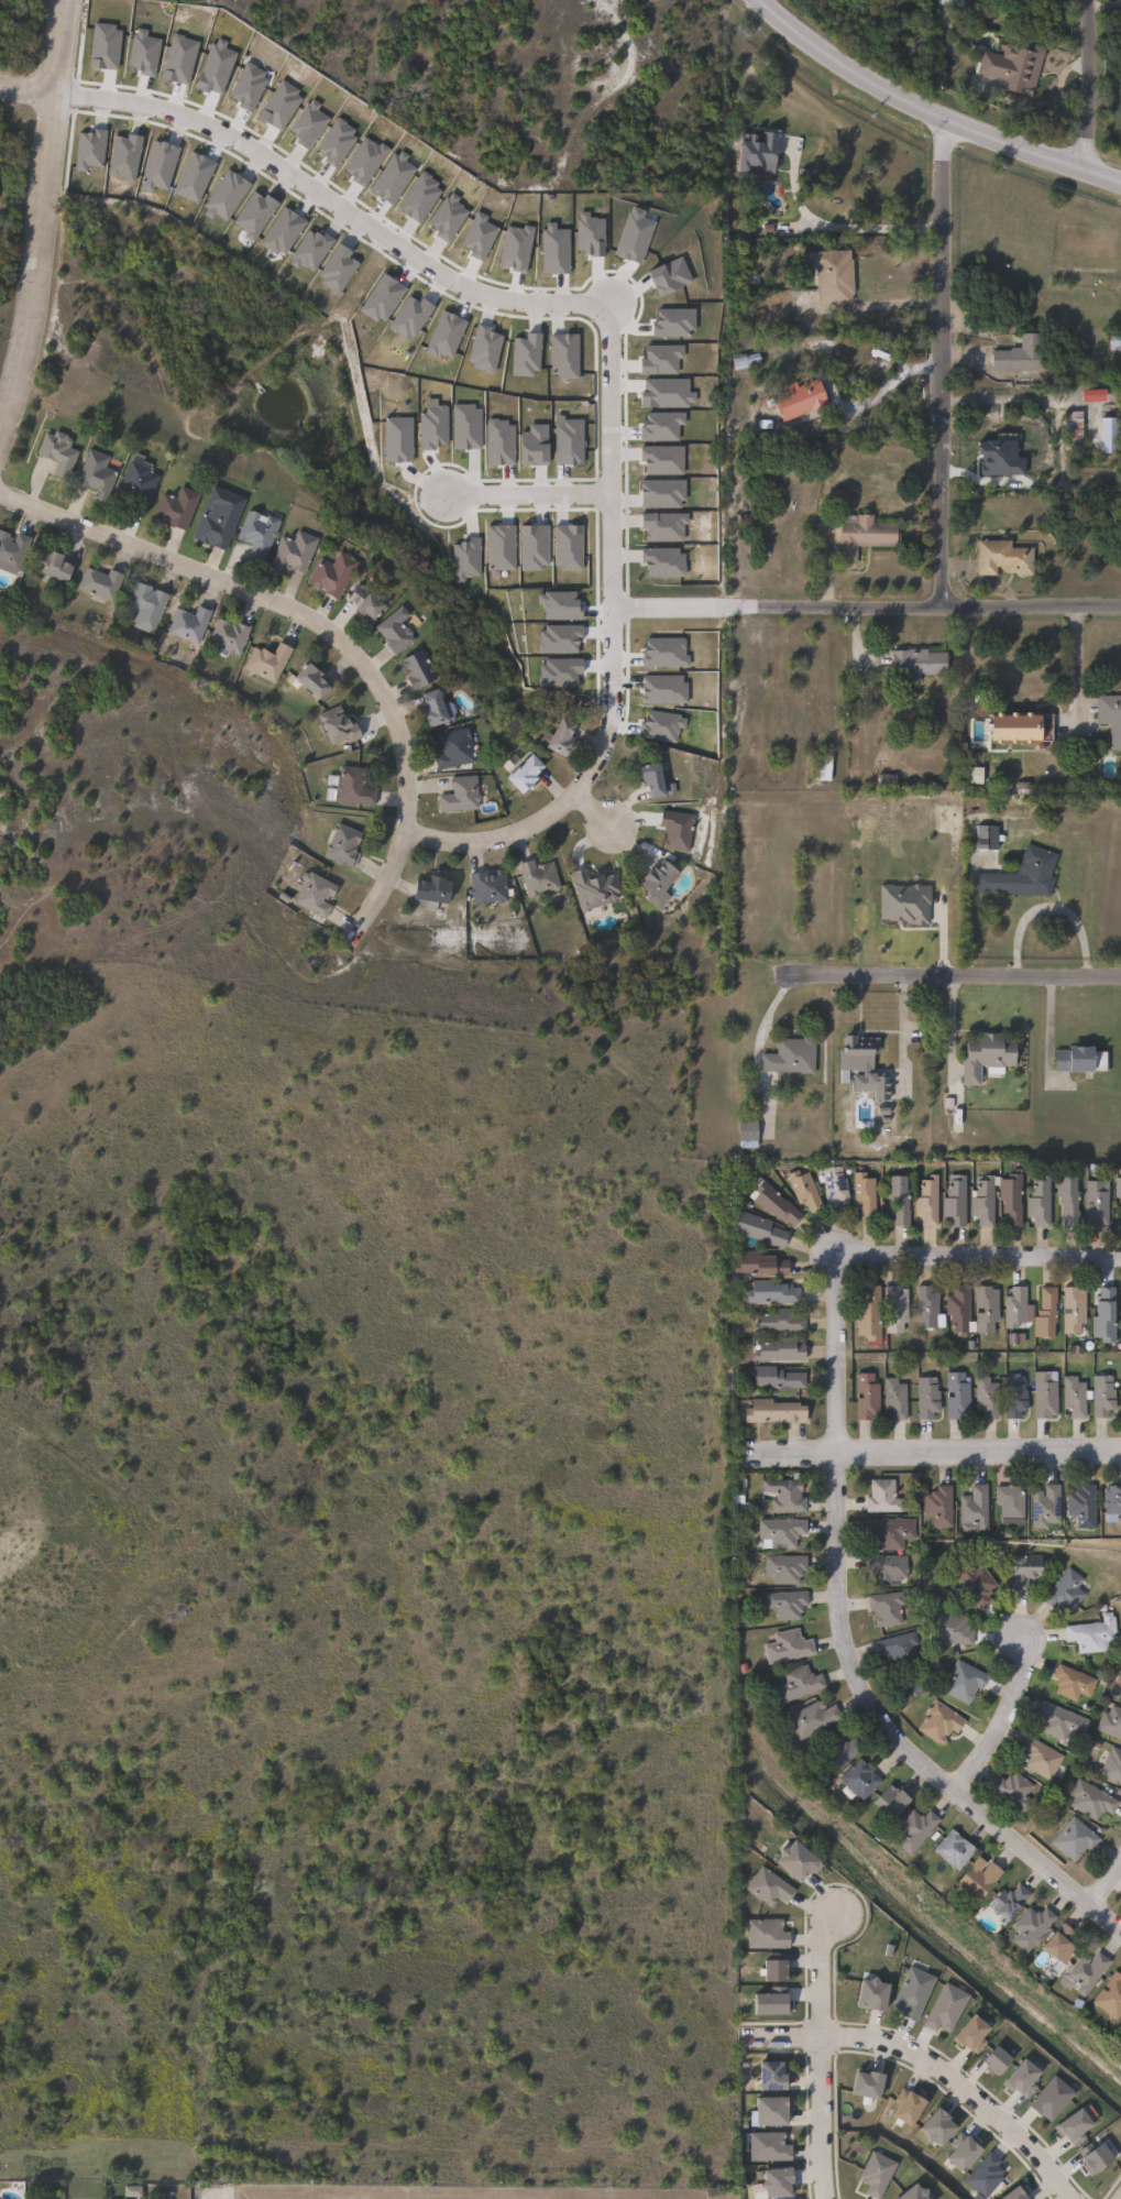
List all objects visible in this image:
building: (952, 2)
building: (1014, 66)
road: (1084, 85)
road: (28, 90)
road: (928, 112)
building: (751, 150)
road: (333, 198)
road: (41, 218)
road: (835, 226)
building: (834, 276)
building: (1022, 352)
building: (747, 360)
road: (943, 362)
road: (893, 379)
building: (802, 400)
building: (1075, 426)
building: (1111, 433)
building: (59, 452)
building: (97, 473)
building: (140, 485)
road: (527, 492)
building: (176, 507)
building: (219, 516)
building: (260, 533)
building: (865, 534)
building: (12, 550)
building: (295, 550)
building: (1005, 556)
building: (55, 564)
building: (334, 573)
building: (101, 582)
building: (369, 602)
road: (865, 605)
building: (146, 606)
building: (190, 623)
road: (327, 626)
building: (396, 631)
building: (230, 635)
road: (611, 647)
building: (270, 660)
building: (919, 663)
road: (1073, 666)
building: (420, 668)
building: (315, 679)
building: (437, 707)
building: (1111, 716)
building: (1022, 725)
building: (340, 726)
building: (564, 736)
building: (454, 748)
building: (825, 767)
building: (529, 773)
building: (656, 779)
building: (355, 787)
building: (461, 795)
road: (593, 807)
building: (678, 829)
building: (989, 836)
building: (344, 844)
building: (1023, 875)
building: (540, 877)
building: (663, 878)
building: (490, 887)
building: (596, 888)
building: (437, 891)
building: (316, 894)
road: (1046, 906)
road: (950, 974)
road: (901, 1027)
building: (860, 1053)
building: (989, 1054)
building: (792, 1055)
building: (1082, 1059)
building: (883, 1087)
building: (749, 1135)
building: (836, 1185)
building: (1119, 1188)
building: (805, 1190)
building: (864, 1192)
building: (900, 1199)
building: (1069, 1199)
building: (1013, 1200)
building: (928, 1201)
building: (957, 1201)
building: (986, 1201)
building: (1042, 1202)
building: (776, 1203)
building: (1099, 1204)
building: (761, 1229)
building: (761, 1266)
building: (773, 1293)
building: (1119, 1305)
building: (1018, 1308)
building: (930, 1309)
building: (988, 1309)
building: (897, 1310)
building: (1075, 1310)
building: (961, 1311)
building: (871, 1314)
building: (1048, 1314)
building: (1106, 1316)
building: (781, 1322)
building: (780, 1350)
building: (779, 1377)
building: (868, 1396)
building: (959, 1396)
building: (1047, 1396)
building: (1106, 1396)
building: (897, 1397)
building: (989, 1397)
building: (1076, 1397)
building: (930, 1398)
building: (1018, 1398)
road: (834, 1400)
building: (777, 1411)
road: (977, 1452)
road: (787, 1455)
building: (787, 1495)
building: (884, 1496)
building: (1113, 1498)
building: (1014, 1499)
building: (1085, 1503)
building: (941, 1505)
building: (1047, 1505)
building: (735, 1506)
building: (977, 1506)
building: (782, 1531)
building: (891, 1531)
building: (890, 1566)
building: (787, 1567)
building: (1027, 1569)
building: (977, 1582)
building: (1067, 1590)
building: (788, 1602)
building: (888, 1607)
building: (953, 1629)
building: (1095, 1633)
building: (790, 1645)
building: (901, 1648)
building: (965, 1680)
building: (1074, 1682)
building: (801, 1683)
building: (1120, 1699)
building: (814, 1719)
building: (1063, 1720)
building: (942, 1721)
building: (1111, 1721)
road: (1001, 1722)
building: (842, 1751)
building: (1043, 1757)
building: (1113, 1764)
building: (861, 1779)
building: (1016, 1791)
building: (1093, 1799)
building: (897, 1801)
building: (917, 1829)
building: (1077, 1838)
building: (956, 1849)
road: (1038, 1858)
building: (790, 1862)
road: (1102, 1870)
building: (980, 1880)
building: (763, 1888)
building: (1009, 1903)
building: (1033, 1927)
building: (762, 1935)
building: (1064, 1946)
building: (770, 1970)
building: (1087, 1971)
building: (909, 1991)
building: (865, 1993)
building: (1111, 1995)
building: (766, 2005)
building: (942, 2006)
building: (965, 2032)
road: (818, 2054)
building: (990, 2058)
road: (926, 2064)
building: (765, 2074)
building: (1015, 2077)
building: (860, 2082)
building: (1047, 2097)
building: (902, 2105)
building: (763, 2110)
building: (1070, 2123)
building: (932, 2125)
building: (763, 2146)
building: (957, 2151)
building: (1089, 2155)
building: (871, 2173)
building: (981, 2175)
building: (770, 2180)
road: (215, 2190)
building: (906, 2192)
building: (1009, 2193)

